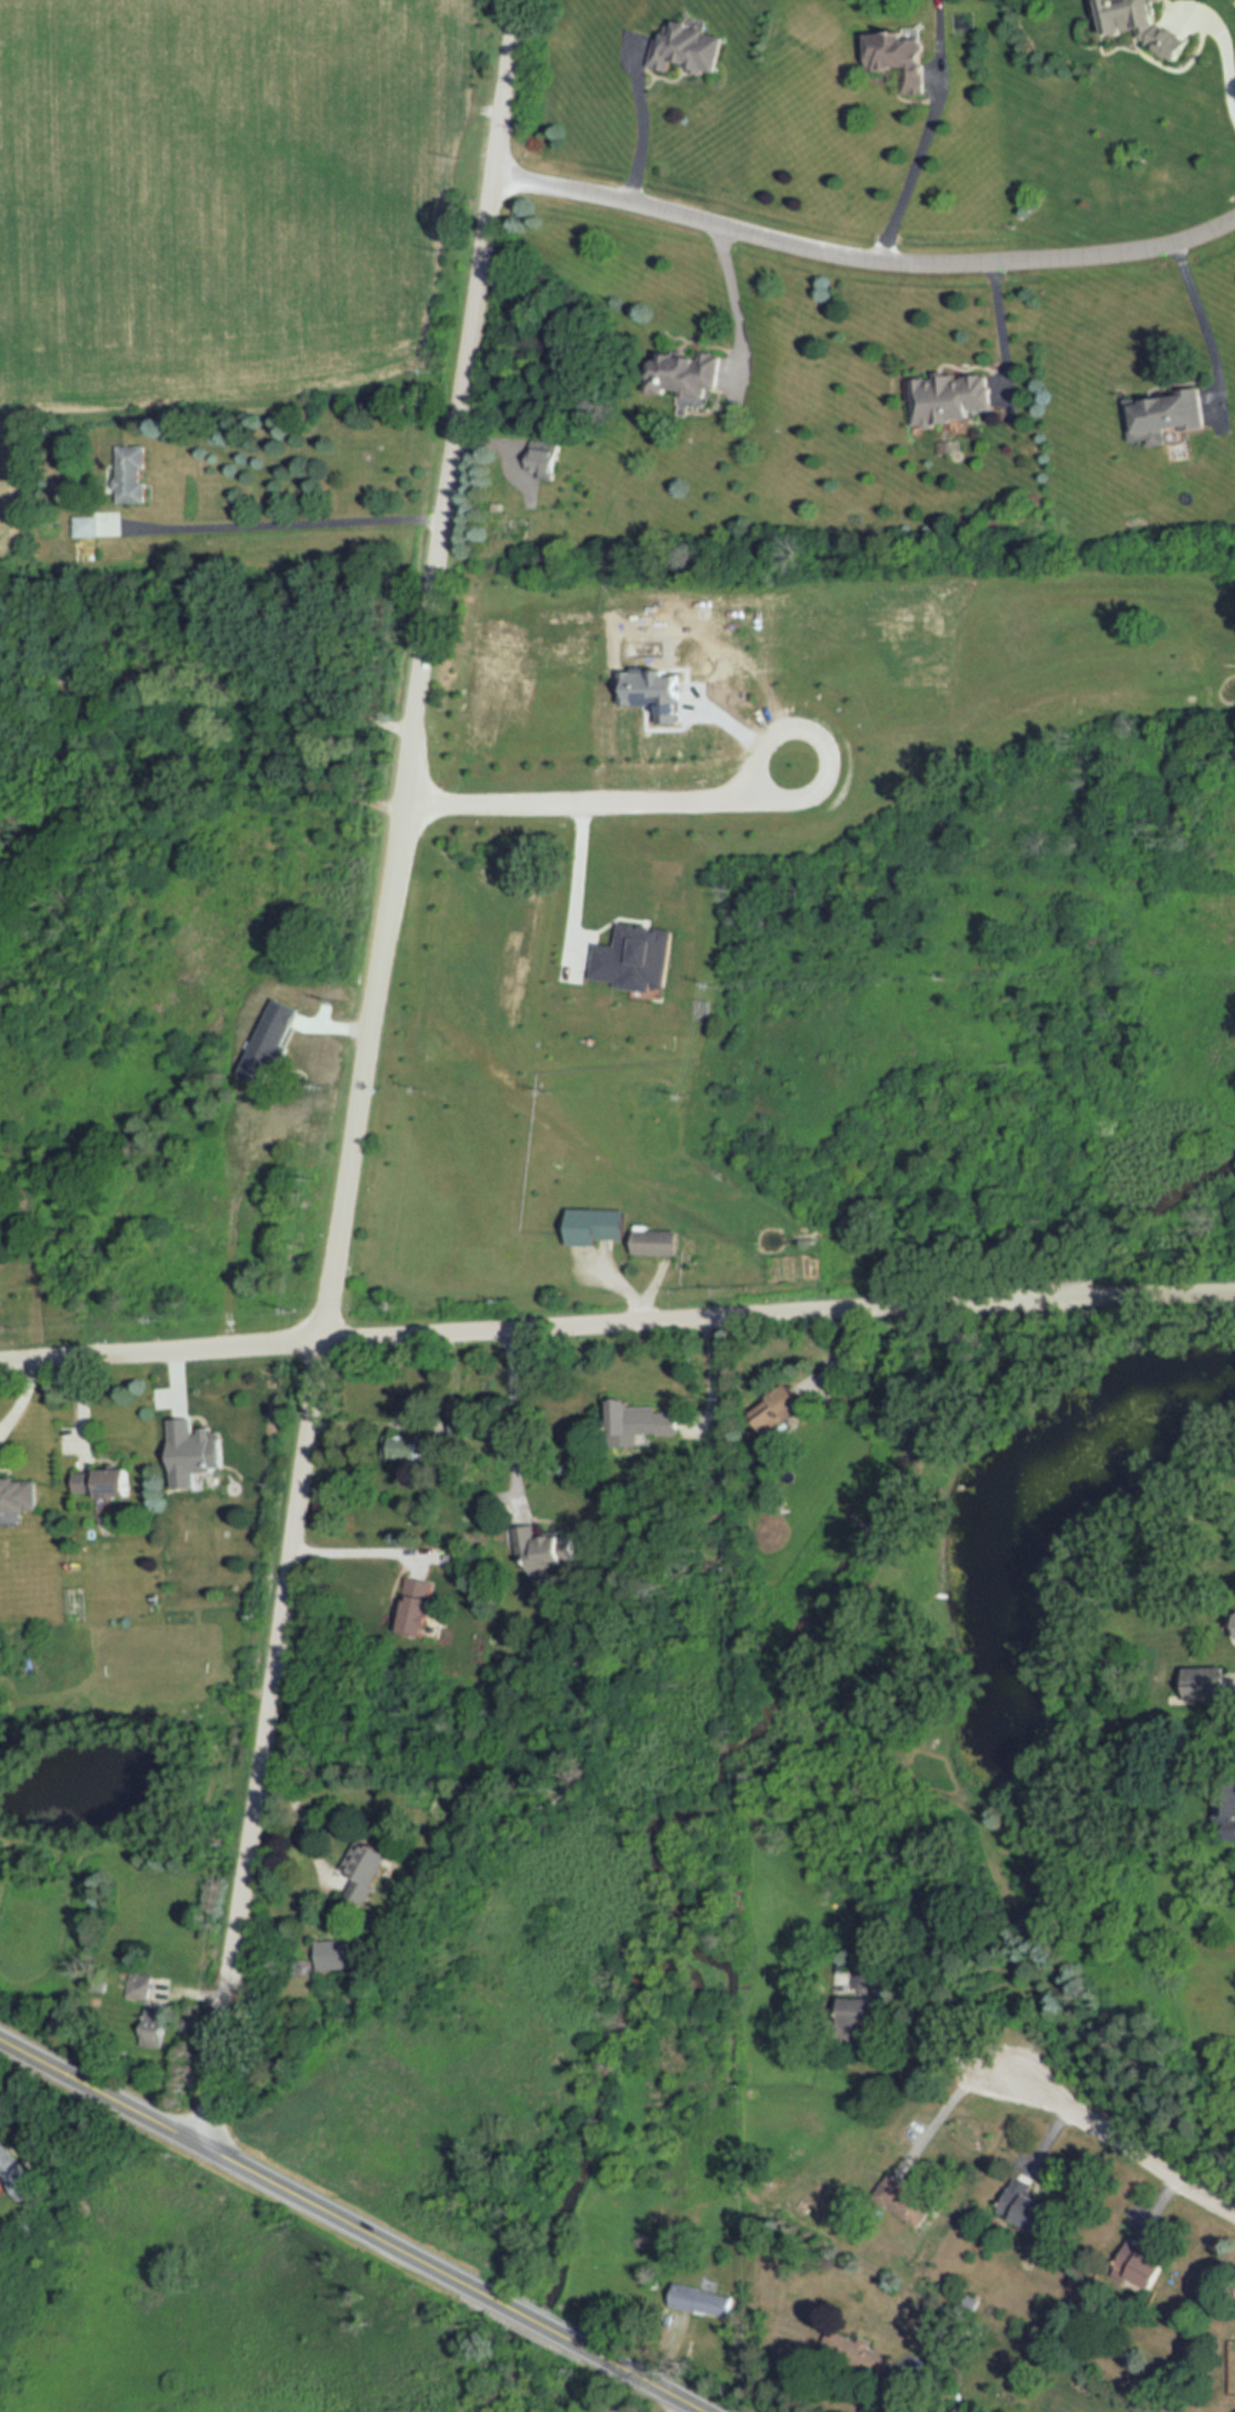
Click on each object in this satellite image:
building: (1142, 25)
building: (685, 47)
building: (902, 58)
road: (1224, 64)
road: (644, 124)
road: (922, 181)
road: (863, 265)
road: (738, 303)
road: (1200, 332)
building: (686, 375)
building: (951, 395)
building: (1168, 413)
building: (544, 463)
building: (133, 473)
building: (86, 525)
road: (279, 533)
road: (212, 679)
road: (201, 779)
road: (610, 810)
road: (579, 882)
road: (368, 1069)
building: (599, 1225)
building: (659, 1241)
road: (1163, 1296)
road: (1084, 1298)
road: (537, 1332)
building: (781, 1410)
road: (516, 1418)
building: (645, 1419)
building: (189, 1446)
building: (107, 1487)
building: (18, 1497)
road: (361, 1544)
building: (541, 1549)
building: (413, 1601)
building: (1208, 1682)
building: (364, 1864)
building: (333, 1950)
building: (153, 2022)
road: (917, 2035)
road: (103, 2084)
road: (936, 2116)
road: (1108, 2143)
building: (17, 2172)
building: (902, 2195)
building: (1025, 2208)
road: (368, 2224)
building: (701, 2302)
road: (538, 2316)
road: (631, 2366)
road: (897, 2394)
road: (676, 2402)

